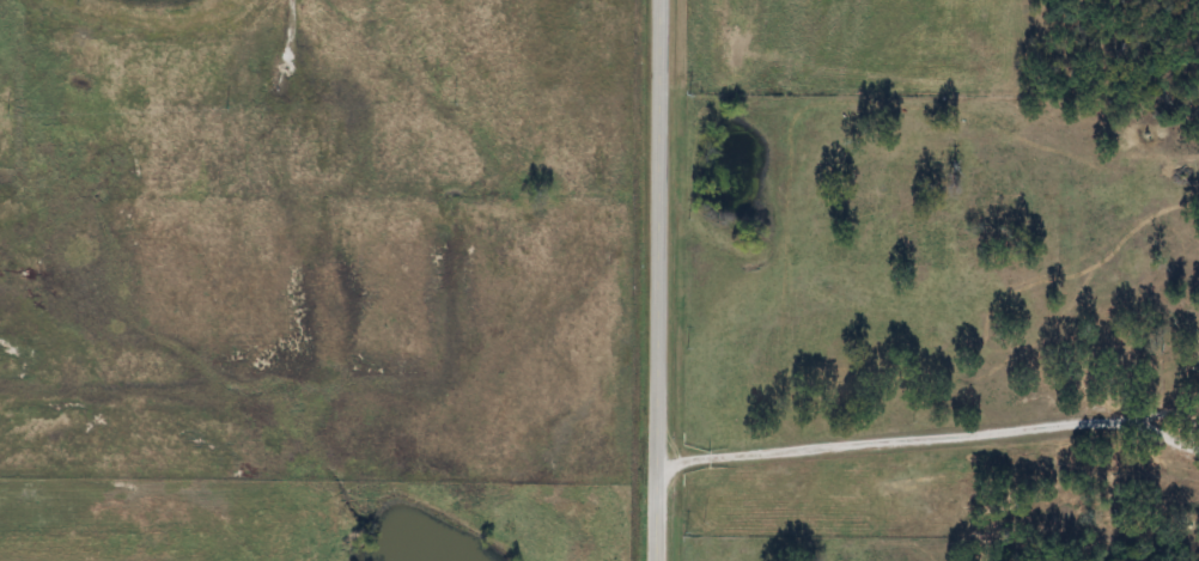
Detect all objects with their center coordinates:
road: (652, 280)
road: (929, 429)

